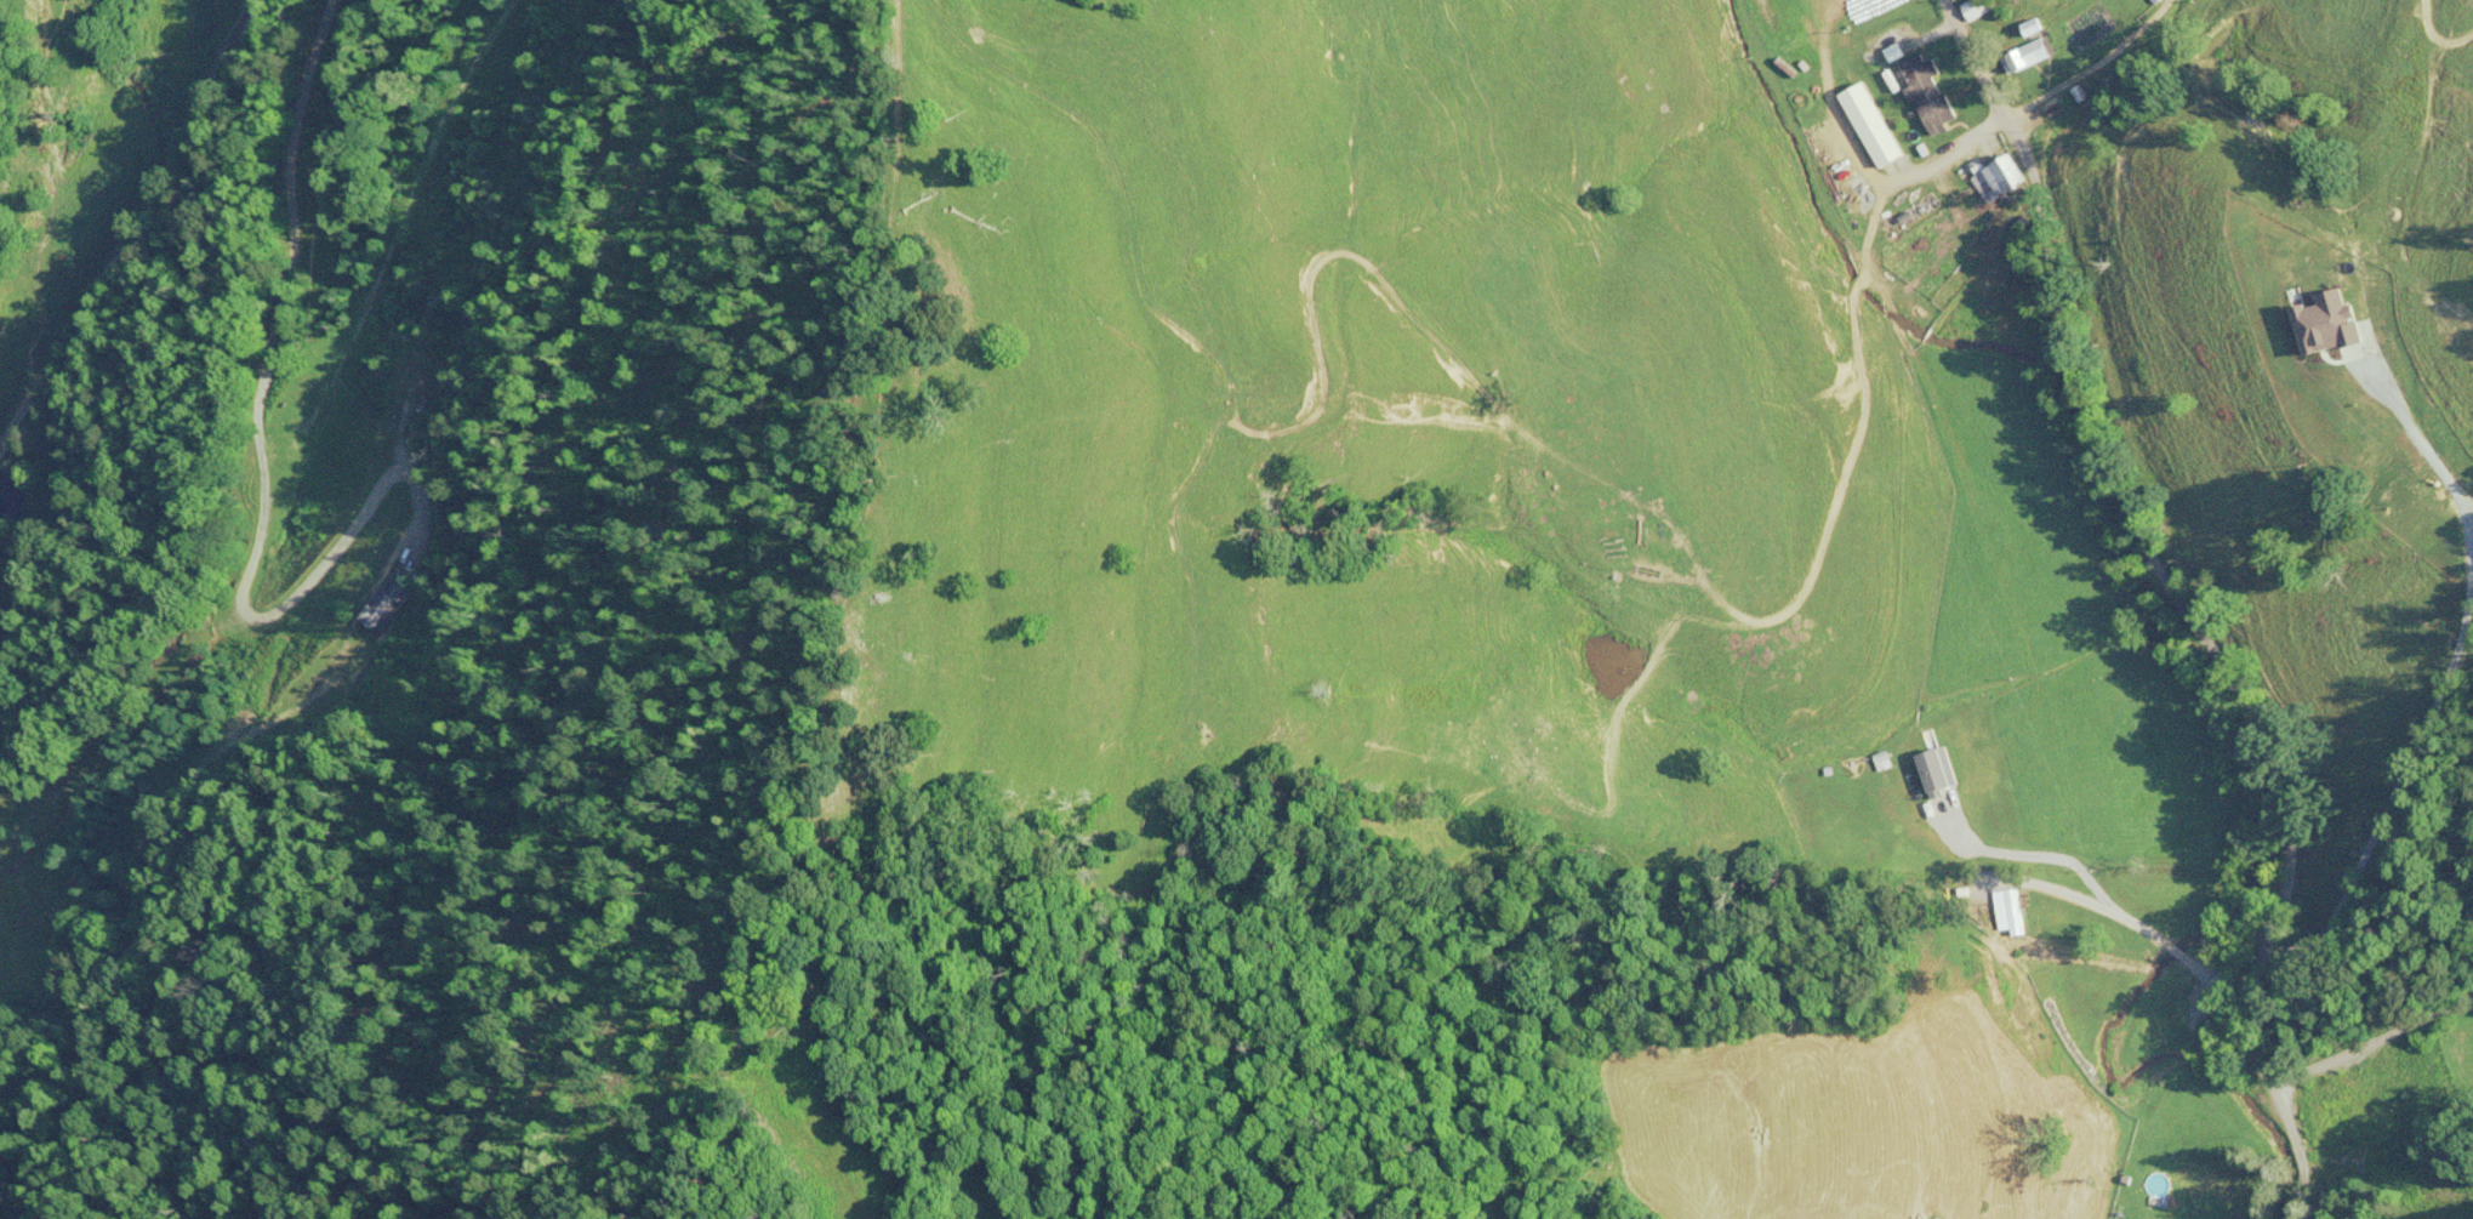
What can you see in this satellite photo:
building: (1972, 8)
building: (2028, 56)
building: (1928, 93)
road: (161, 173)
building: (1999, 183)
road: (2232, 587)
building: (384, 602)
building: (2011, 912)
road: (2391, 992)

